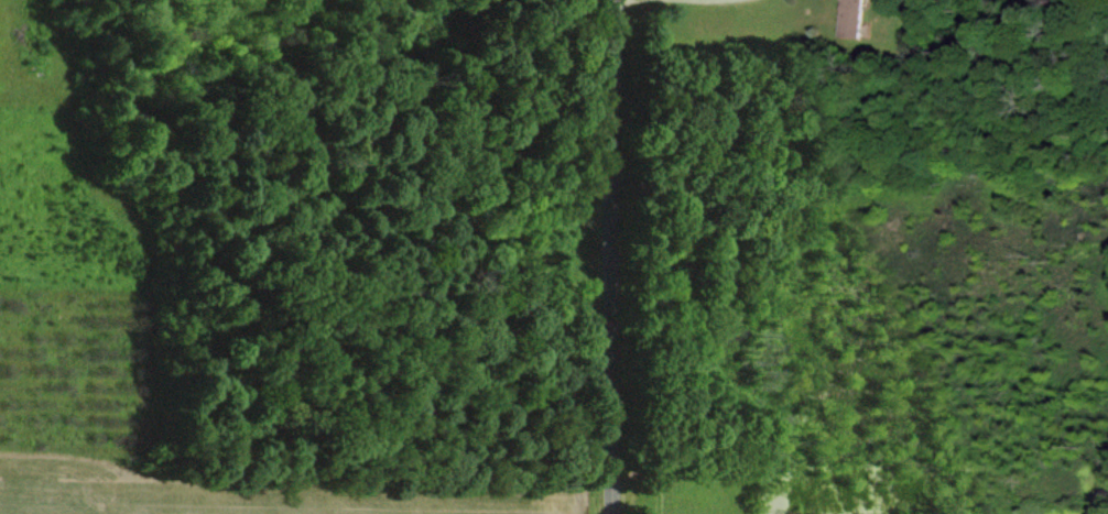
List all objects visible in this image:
road: (703, 0)
building: (848, 19)
road: (616, 256)

